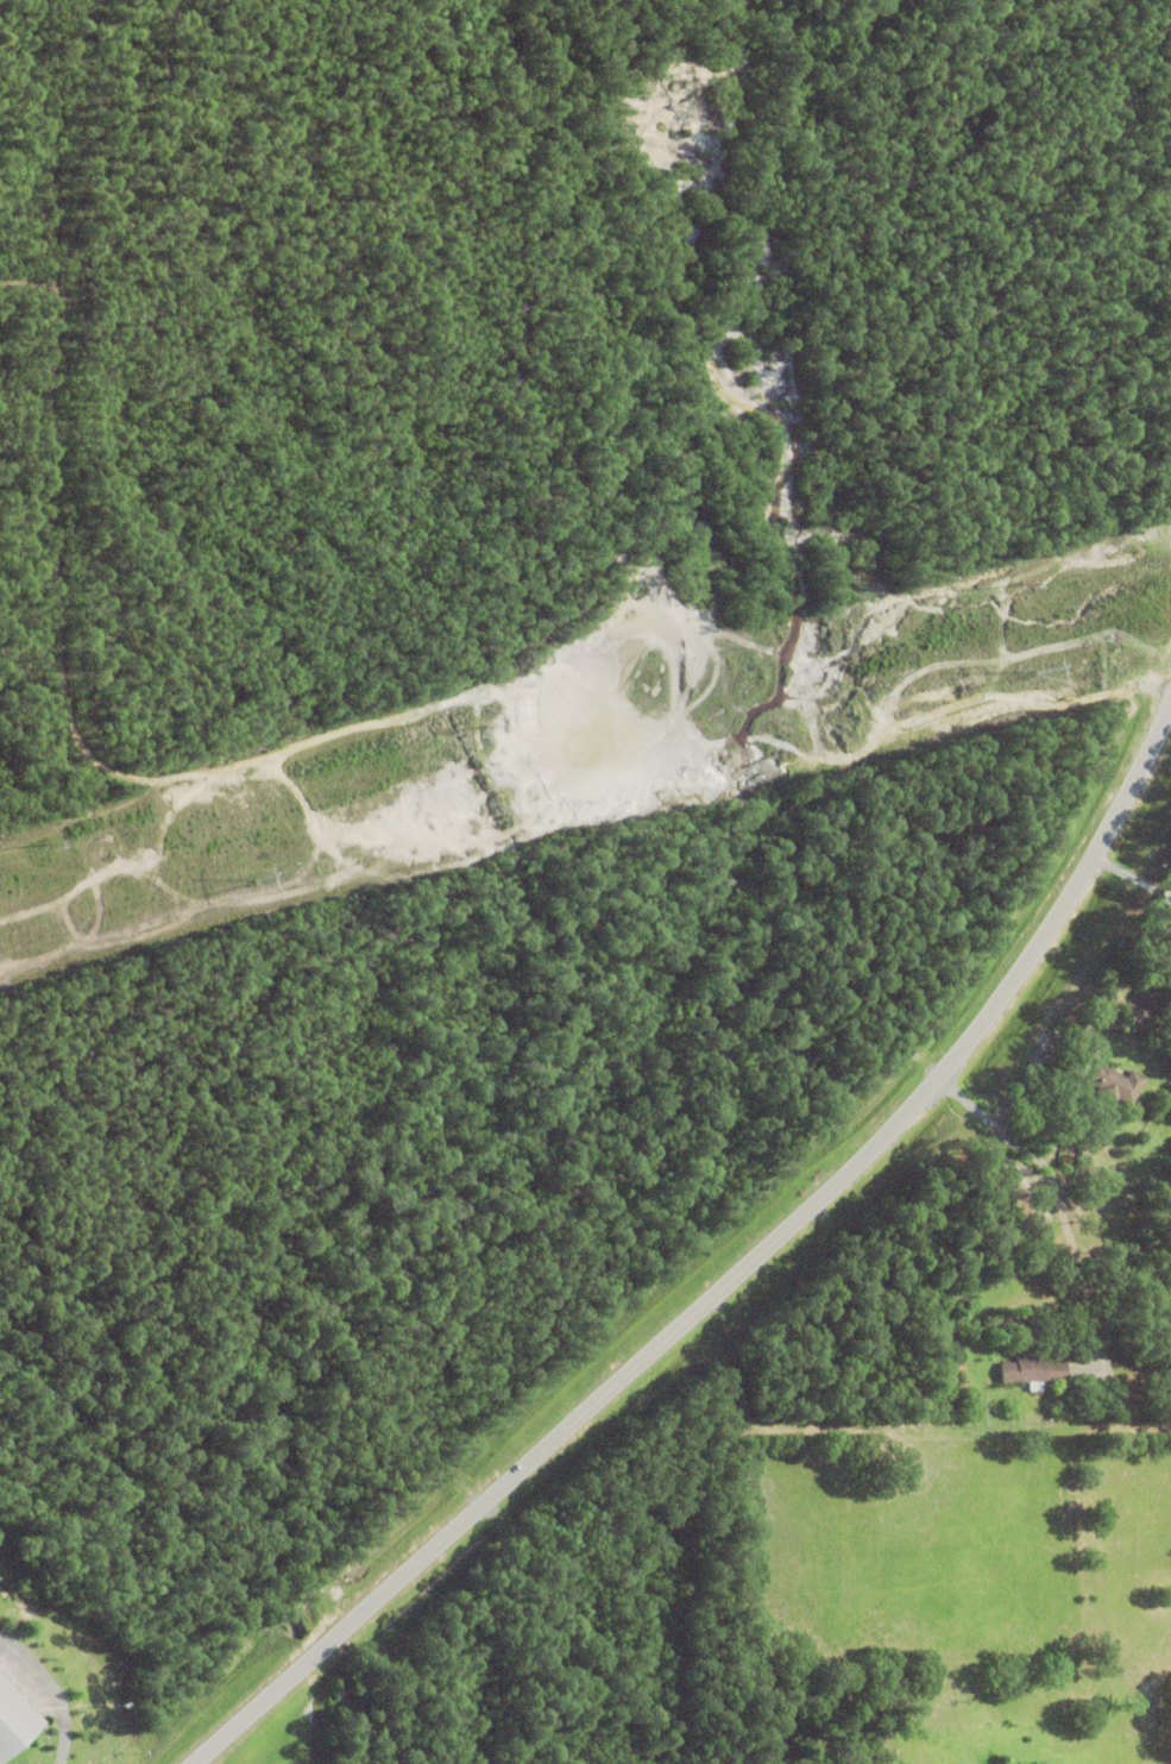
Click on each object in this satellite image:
power tower: (1041, 673)
power tower: (264, 883)
building: (1106, 1076)
road: (1056, 1197)
road: (729, 1280)
building: (1032, 1370)
road: (32, 1677)
building: (13, 1716)
road: (61, 1739)

